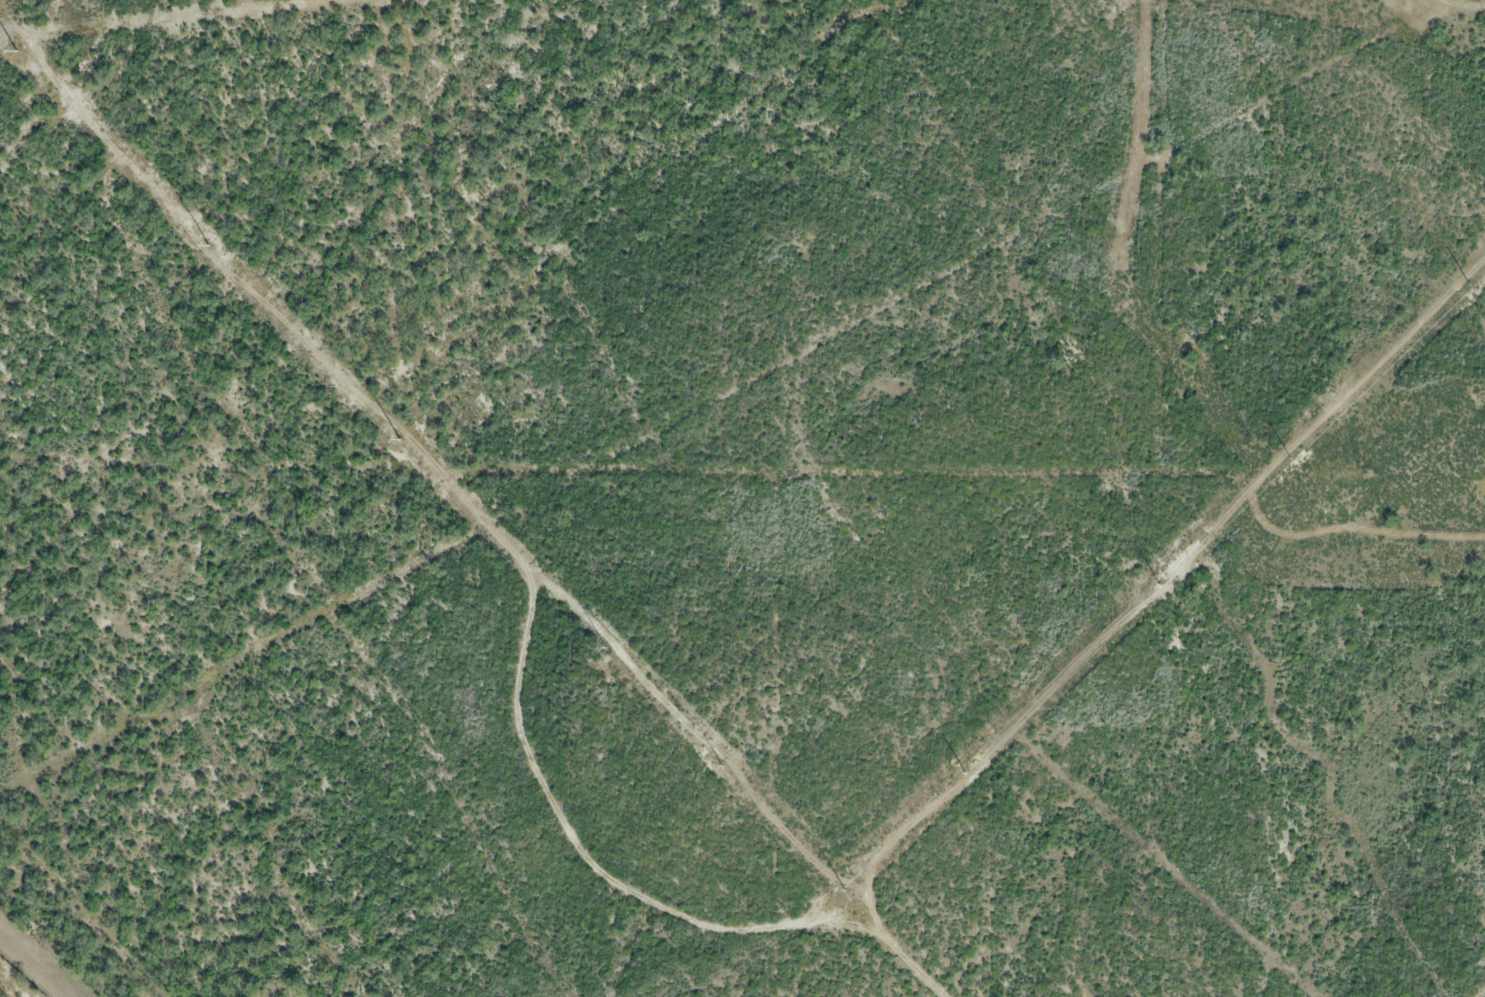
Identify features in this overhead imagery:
power tower: (16, 52)
power tower: (1470, 282)
power tower: (399, 439)
power tower: (1290, 457)
power tower: (1159, 585)
power tower: (605, 649)
power tower: (723, 768)
power tower: (965, 772)
power tower: (844, 891)

